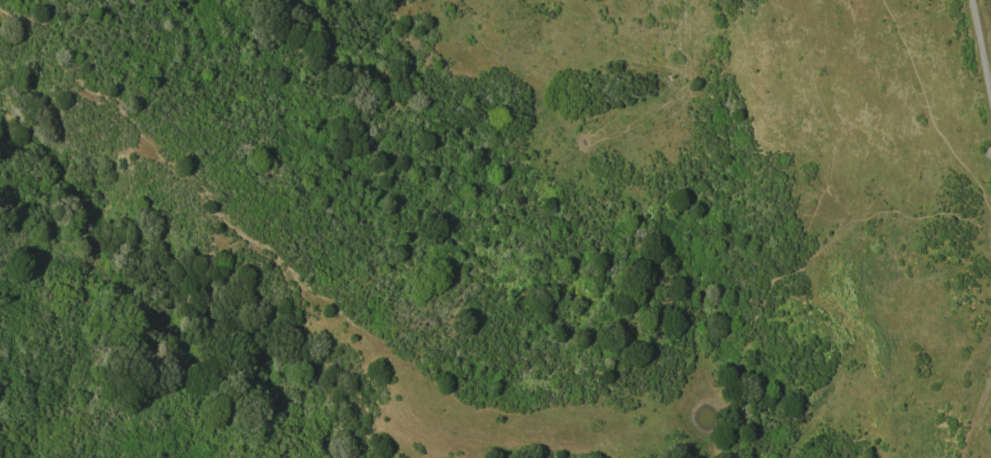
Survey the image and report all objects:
road: (981, 48)
road: (926, 105)

